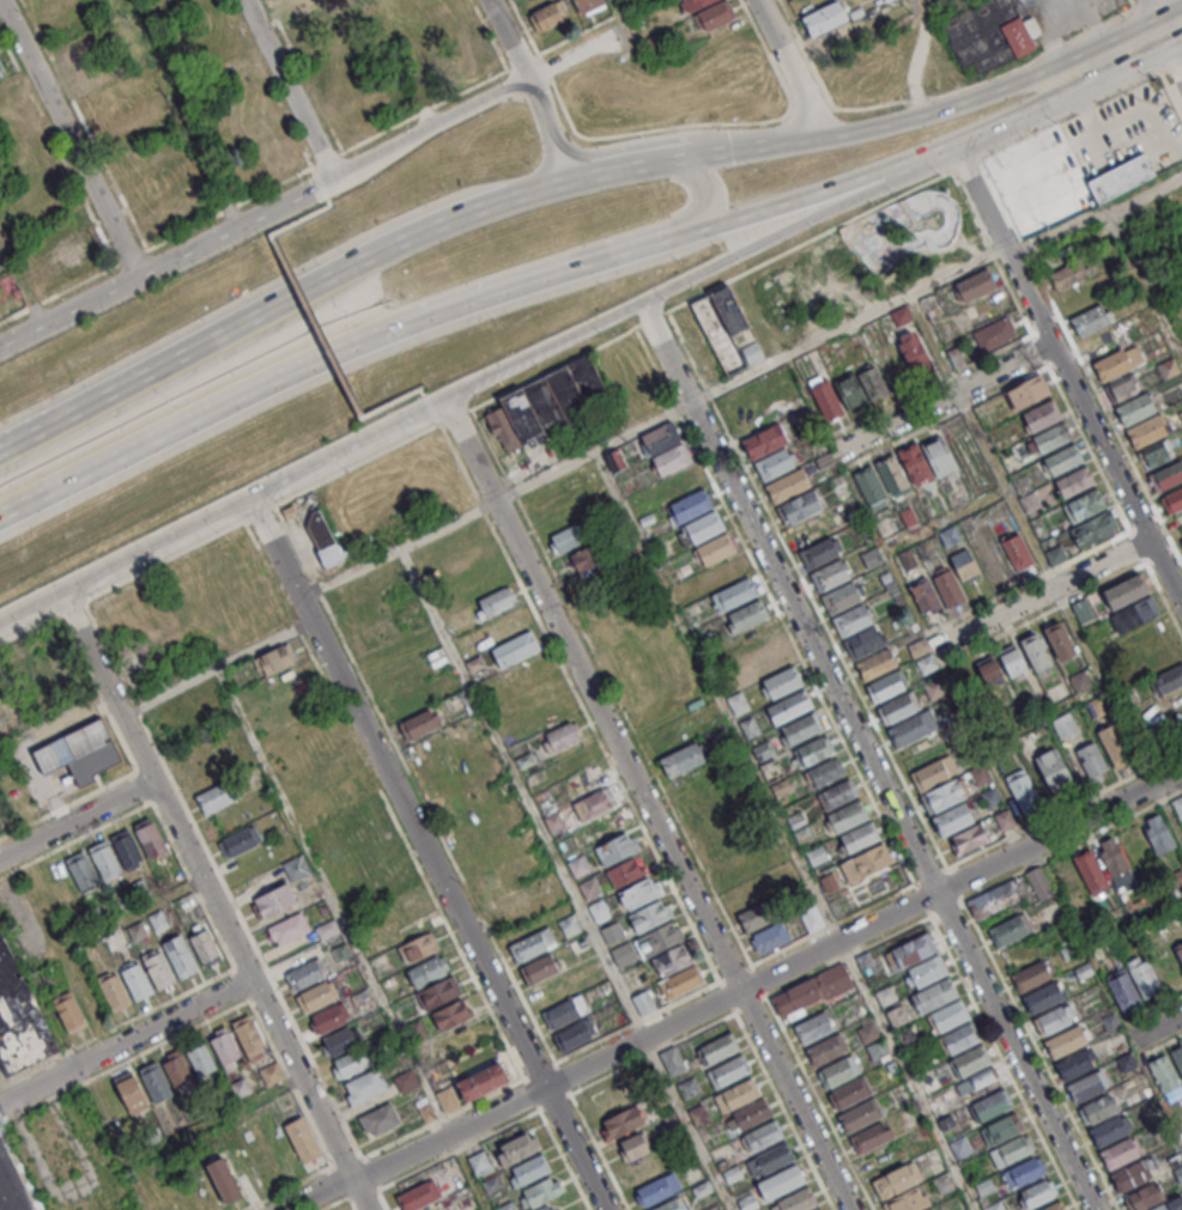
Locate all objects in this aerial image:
building: (928, 0)
building: (692, 4)
building: (588, 5)
building: (550, 14)
building: (715, 14)
road: (1160, 16)
building: (823, 18)
building: (309, 24)
road: (1175, 28)
building: (990, 32)
road: (578, 36)
road: (513, 37)
building: (213, 42)
road: (1175, 45)
building: (472, 53)
road: (582, 53)
road: (1123, 53)
road: (921, 56)
road: (525, 62)
building: (84, 63)
road: (796, 68)
building: (1, 71)
road: (1002, 87)
road: (295, 90)
building: (103, 96)
road: (1090, 104)
road: (1153, 110)
road: (428, 111)
building: (113, 117)
road: (1001, 124)
road: (435, 126)
road: (552, 128)
road: (849, 133)
road: (69, 139)
road: (1109, 148)
road: (734, 150)
road: (331, 159)
road: (632, 166)
road: (320, 177)
building: (1120, 177)
road: (922, 183)
building: (148, 184)
road: (332, 184)
road: (709, 191)
road: (328, 196)
road: (798, 200)
road: (970, 209)
road: (1097, 214)
road: (302, 219)
park: (883, 236)
road: (645, 242)
road: (990, 253)
road: (162, 266)
building: (1068, 274)
road: (1146, 280)
road: (683, 281)
road: (514, 284)
building: (975, 285)
road: (310, 287)
road: (1013, 297)
building: (931, 303)
building: (720, 314)
building: (902, 315)
road: (650, 317)
building: (1093, 322)
road: (317, 326)
building: (995, 333)
road: (686, 349)
road: (1039, 349)
building: (914, 352)
road: (993, 352)
building: (748, 353)
building: (956, 355)
building: (1115, 365)
road: (552, 366)
building: (1168, 367)
road: (1069, 369)
road: (950, 372)
building: (873, 379)
road: (1010, 384)
building: (1122, 388)
building: (851, 390)
road: (708, 391)
building: (1031, 393)
road: (946, 396)
building: (826, 397)
road: (396, 400)
road: (428, 400)
road: (438, 401)
road: (887, 405)
building: (546, 406)
road: (964, 406)
building: (1138, 411)
road: (205, 412)
road: (435, 414)
road: (453, 415)
building: (1044, 416)
road: (656, 421)
road: (438, 424)
road: (441, 424)
road: (30, 432)
building: (1150, 432)
road: (30, 434)
building: (663, 438)
road: (901, 438)
building: (1055, 439)
road: (358, 440)
building: (765, 444)
road: (1087, 445)
building: (674, 461)
building: (1066, 461)
building: (776, 466)
building: (892, 475)
building: (1168, 478)
building: (681, 480)
building: (1078, 482)
road: (269, 484)
building: (569, 484)
building: (790, 486)
building: (872, 488)
building: (1174, 503)
building: (696, 505)
building: (1086, 506)
building: (802, 509)
building: (560, 515)
building: (909, 516)
building: (708, 528)
building: (1095, 528)
road: (1131, 531)
building: (568, 537)
building: (1181, 539)
building: (323, 540)
road: (1138, 545)
road: (1091, 548)
building: (719, 549)
building: (1017, 549)
building: (823, 554)
road: (126, 557)
building: (872, 558)
building: (584, 559)
road: (1047, 564)
building: (964, 565)
road: (1047, 571)
building: (834, 577)
road: (1108, 580)
building: (947, 586)
road: (1044, 592)
building: (1129, 592)
road: (792, 594)
building: (740, 595)
road: (1163, 595)
building: (926, 596)
building: (845, 598)
road: (1063, 601)
building: (495, 602)
road: (983, 602)
road: (775, 607)
building: (1135, 613)
building: (750, 616)
building: (855, 621)
building: (505, 625)
road: (829, 632)
road: (1001, 634)
building: (759, 637)
building: (1060, 639)
building: (866, 643)
building: (515, 647)
road: (934, 647)
building: (1036, 651)
building: (1158, 657)
building: (1012, 659)
building: (879, 665)
road: (222, 667)
building: (990, 671)
building: (1168, 680)
building: (1079, 681)
building: (786, 683)
road: (612, 687)
building: (890, 688)
road: (135, 703)
building: (738, 703)
road: (581, 705)
building: (796, 706)
building: (901, 710)
building: (420, 724)
building: (1065, 724)
building: (806, 729)
building: (911, 730)
building: (559, 736)
building: (1115, 744)
power substation: (79, 750)
building: (79, 752)
building: (818, 752)
road: (1166, 756)
building: (683, 759)
building: (1092, 760)
road: (1148, 766)
building: (1054, 770)
building: (830, 772)
building: (206, 776)
building: (934, 776)
building: (1023, 789)
road: (523, 794)
road: (1175, 794)
building: (841, 795)
building: (945, 797)
building: (990, 797)
building: (214, 798)
road: (384, 799)
road: (1163, 799)
road: (653, 802)
building: (594, 803)
building: (1178, 805)
road: (79, 816)
building: (851, 817)
building: (1006, 817)
road: (1043, 817)
building: (956, 821)
road: (788, 829)
building: (1158, 834)
building: (150, 837)
building: (863, 838)
building: (969, 838)
building: (241, 841)
building: (616, 847)
building: (127, 849)
road: (429, 851)
road: (1061, 851)
building: (817, 855)
building: (872, 859)
building: (1115, 859)
building: (105, 861)
building: (580, 864)
road: (954, 865)
building: (295, 869)
building: (625, 871)
building: (1092, 871)
road: (931, 875)
road: (968, 876)
building: (72, 877)
building: (1176, 878)
building: (1041, 882)
road: (980, 889)
building: (637, 892)
building: (999, 896)
road: (220, 899)
road: (335, 900)
road: (921, 900)
building: (274, 901)
building: (505, 901)
building: (1181, 904)
building: (847, 905)
building: (600, 911)
building: (810, 911)
building: (648, 916)
road: (971, 919)
road: (954, 920)
road: (119, 922)
road: (835, 922)
road: (935, 922)
building: (1010, 928)
building: (287, 930)
building: (613, 931)
building: (657, 938)
building: (770, 938)
building: (204, 945)
building: (419, 947)
building: (528, 947)
building: (1178, 949)
building: (908, 951)
building: (624, 954)
building: (180, 956)
road: (847, 956)
building: (672, 960)
building: (69, 963)
road: (750, 965)
building: (539, 969)
building: (159, 971)
building: (426, 971)
building: (926, 971)
road: (735, 972)
building: (1032, 973)
building: (304, 974)
building: (1144, 974)
building: (684, 980)
road: (759, 980)
building: (137, 981)
building: (442, 990)
building: (1123, 990)
building: (114, 992)
road: (733, 993)
building: (799, 993)
building: (935, 993)
building: (1043, 995)
building: (316, 997)
road: (728, 997)
road: (683, 999)
building: (91, 1002)
building: (643, 1002)
road: (751, 1004)
road: (1154, 1007)
building: (566, 1010)
road: (734, 1010)
building: (69, 1013)
building: (453, 1014)
building: (18, 1015)
building: (947, 1015)
building: (1055, 1017)
road: (208, 1019)
building: (327, 1019)
road: (637, 1021)
building: (813, 1027)
road: (1154, 1028)
building: (248, 1034)
building: (575, 1034)
building: (959, 1036)
road: (128, 1039)
building: (340, 1040)
building: (1066, 1040)
road: (592, 1044)
road: (1163, 1044)
building: (224, 1046)
building: (719, 1047)
building: (826, 1048)
road: (1022, 1050)
road: (653, 1052)
road: (1041, 1054)
building: (1177, 1057)
building: (201, 1059)
building: (672, 1059)
building: (971, 1059)
road: (72, 1060)
road: (1002, 1060)
building: (1075, 1063)
building: (350, 1064)
road: (557, 1064)
building: (176, 1069)
road: (539, 1070)
building: (729, 1070)
building: (838, 1071)
building: (271, 1074)
building: (1166, 1076)
building: (982, 1077)
road: (564, 1078)
building: (154, 1082)
building: (484, 1082)
building: (1087, 1086)
building: (689, 1088)
building: (364, 1089)
building: (132, 1092)
building: (849, 1092)
road: (532, 1093)
building: (740, 1093)
building: (447, 1101)
road: (554, 1101)
road: (820, 1101)
building: (993, 1105)
building: (1102, 1107)
road: (784, 1111)
building: (751, 1113)
road: (444, 1115)
building: (861, 1115)
building: (625, 1119)
road: (216, 1120)
building: (380, 1121)
road: (686, 1124)
building: (1004, 1127)
building: (1109, 1130)
building: (763, 1135)
building: (871, 1136)
building: (303, 1139)
building: (630, 1147)
road: (461, 1148)
building: (517, 1148)
building: (1013, 1148)
road: (599, 1150)
building: (1119, 1153)
road: (366, 1157)
road: (564, 1157)
building: (774, 1157)
road: (348, 1161)
road: (20, 1167)
building: (529, 1169)
road: (472, 1171)
building: (1025, 1171)
road: (372, 1172)
building: (1132, 1174)
building: (897, 1180)
building: (781, 1181)
road: (341, 1182)
building: (226, 1184)
road: (289, 1186)
road: (381, 1186)
building: (657, 1188)
building: (540, 1192)
road: (364, 1193)
building: (1036, 1193)
building: (1146, 1196)
building: (207, 1197)
building: (419, 1197)
road: (382, 1199)
building: (798, 1199)
building: (178, 1202)
road: (334, 1202)
building: (748, 1202)
building: (904, 1202)
road: (2, 1203)
road: (353, 1204)
building: (668, 1205)
building: (1054, 1205)
building: (1165, 1206)
building: (546, 1208)
building: (818, 1209)
building: (927, 1209)

